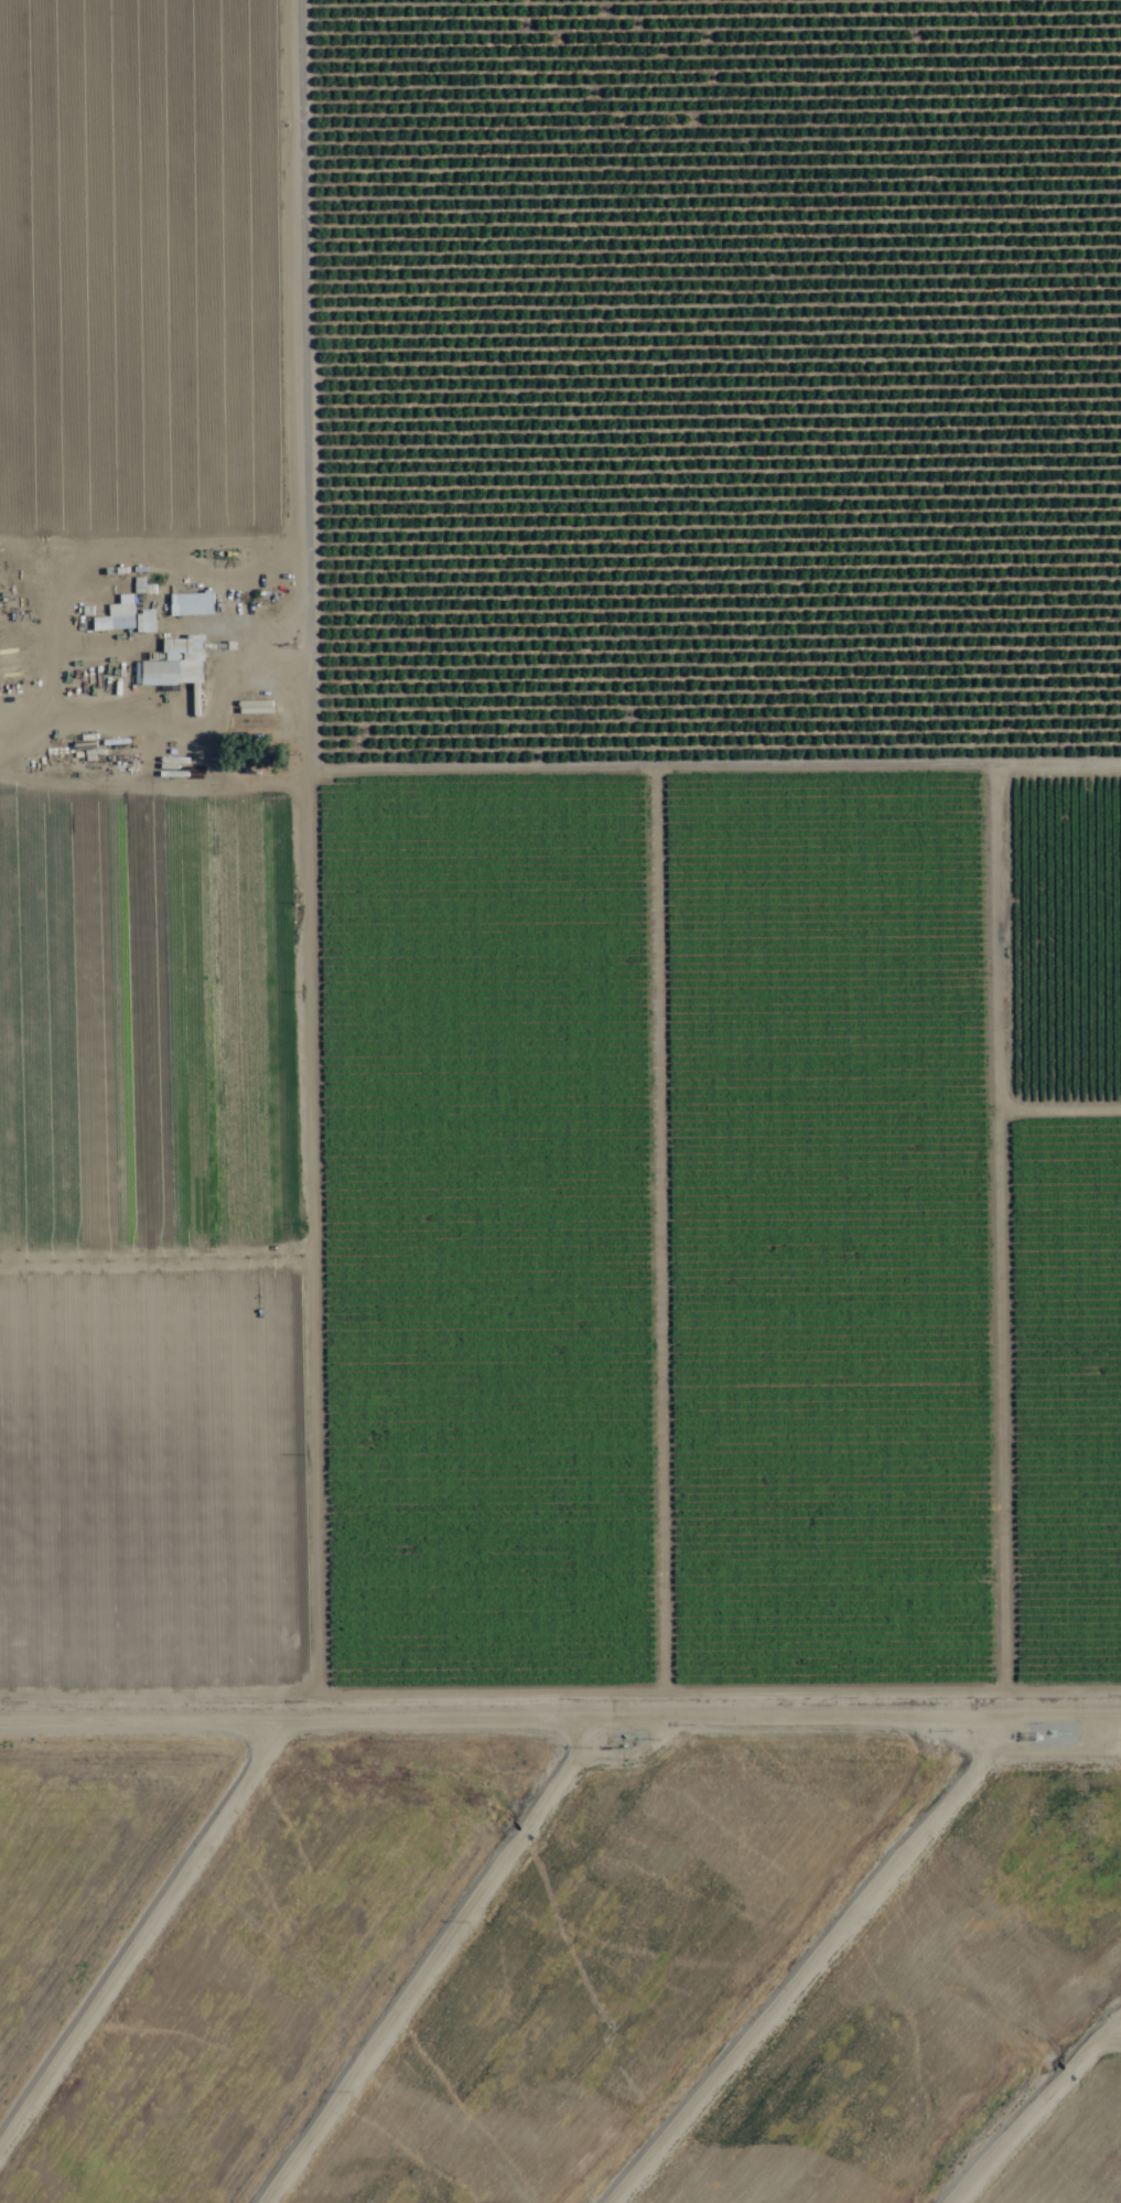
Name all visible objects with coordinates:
building: (130, 619)
building: (176, 663)
road: (560, 742)
road: (267, 797)
crop: (560, 843)

